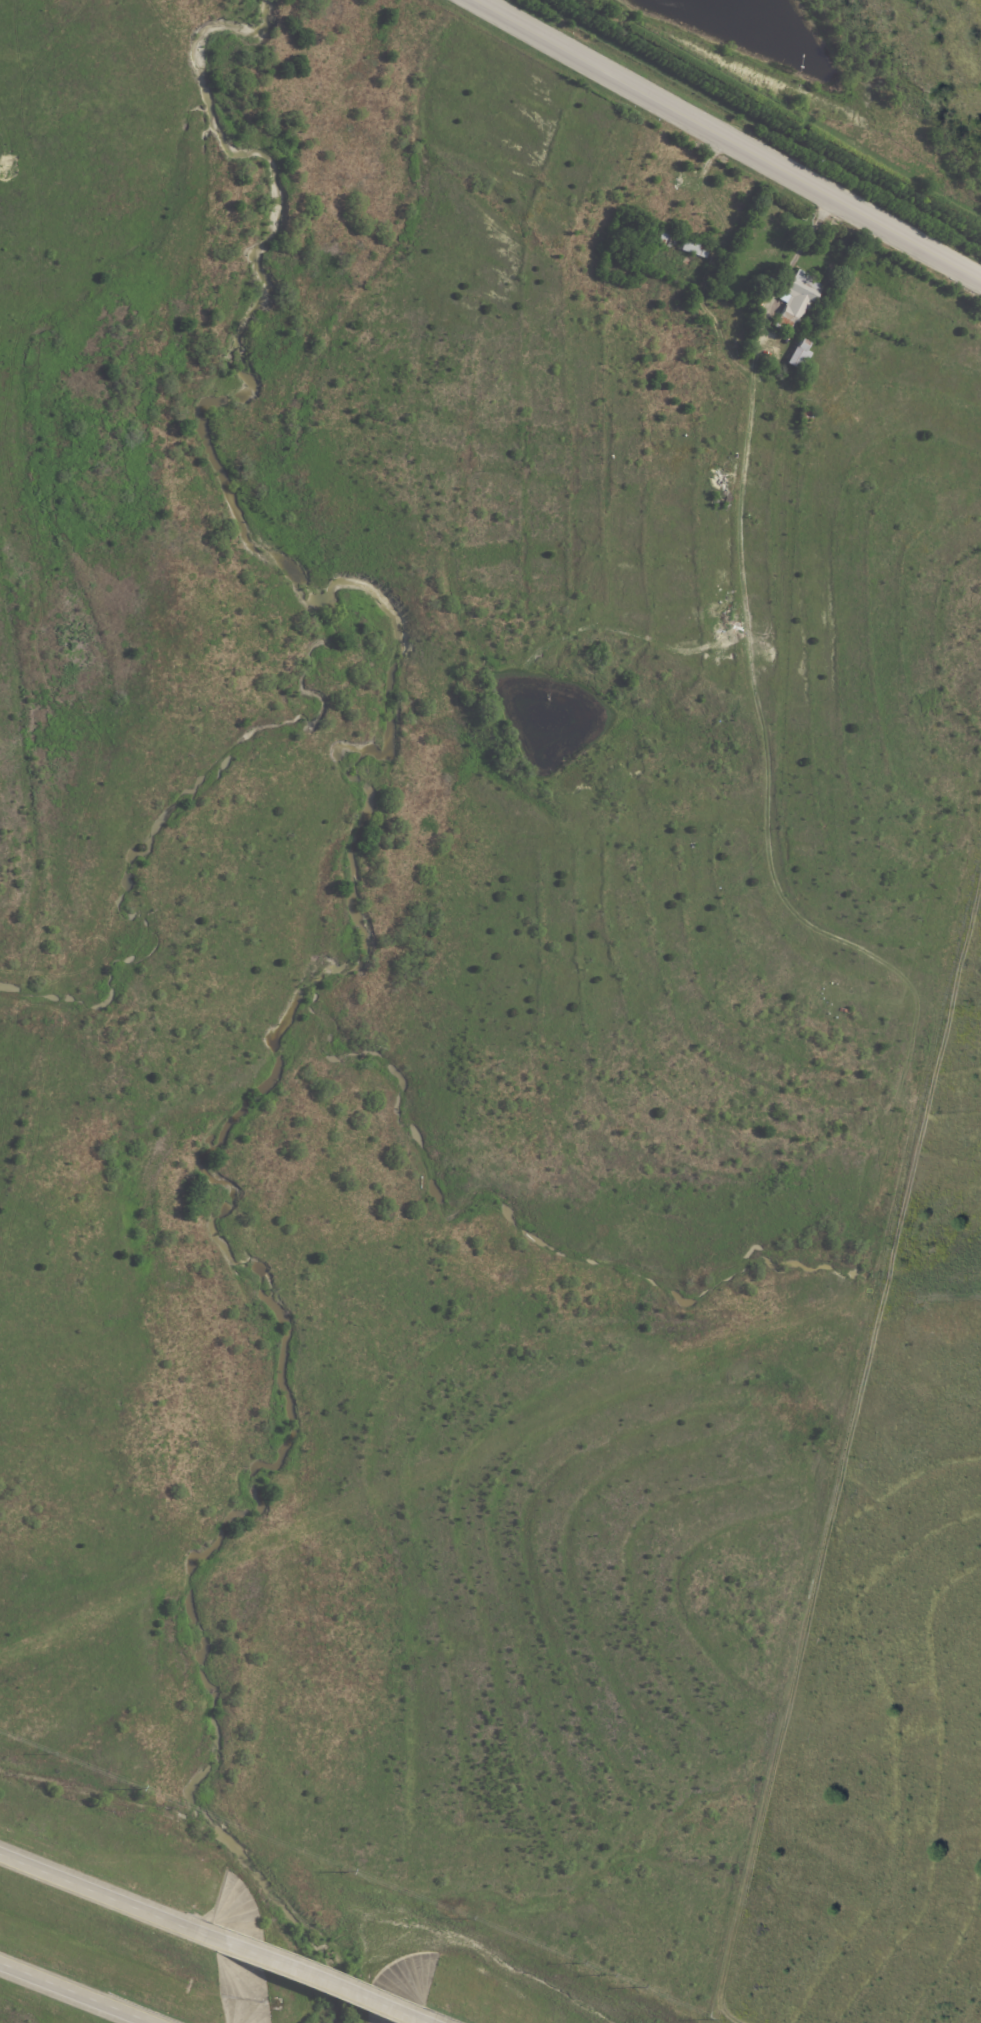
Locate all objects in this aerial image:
road: (728, 140)
building: (671, 242)
building: (696, 249)
road: (791, 271)
building: (799, 301)
building: (800, 356)
building: (808, 415)
road: (107, 1895)
road: (321, 1980)
road: (80, 1991)

